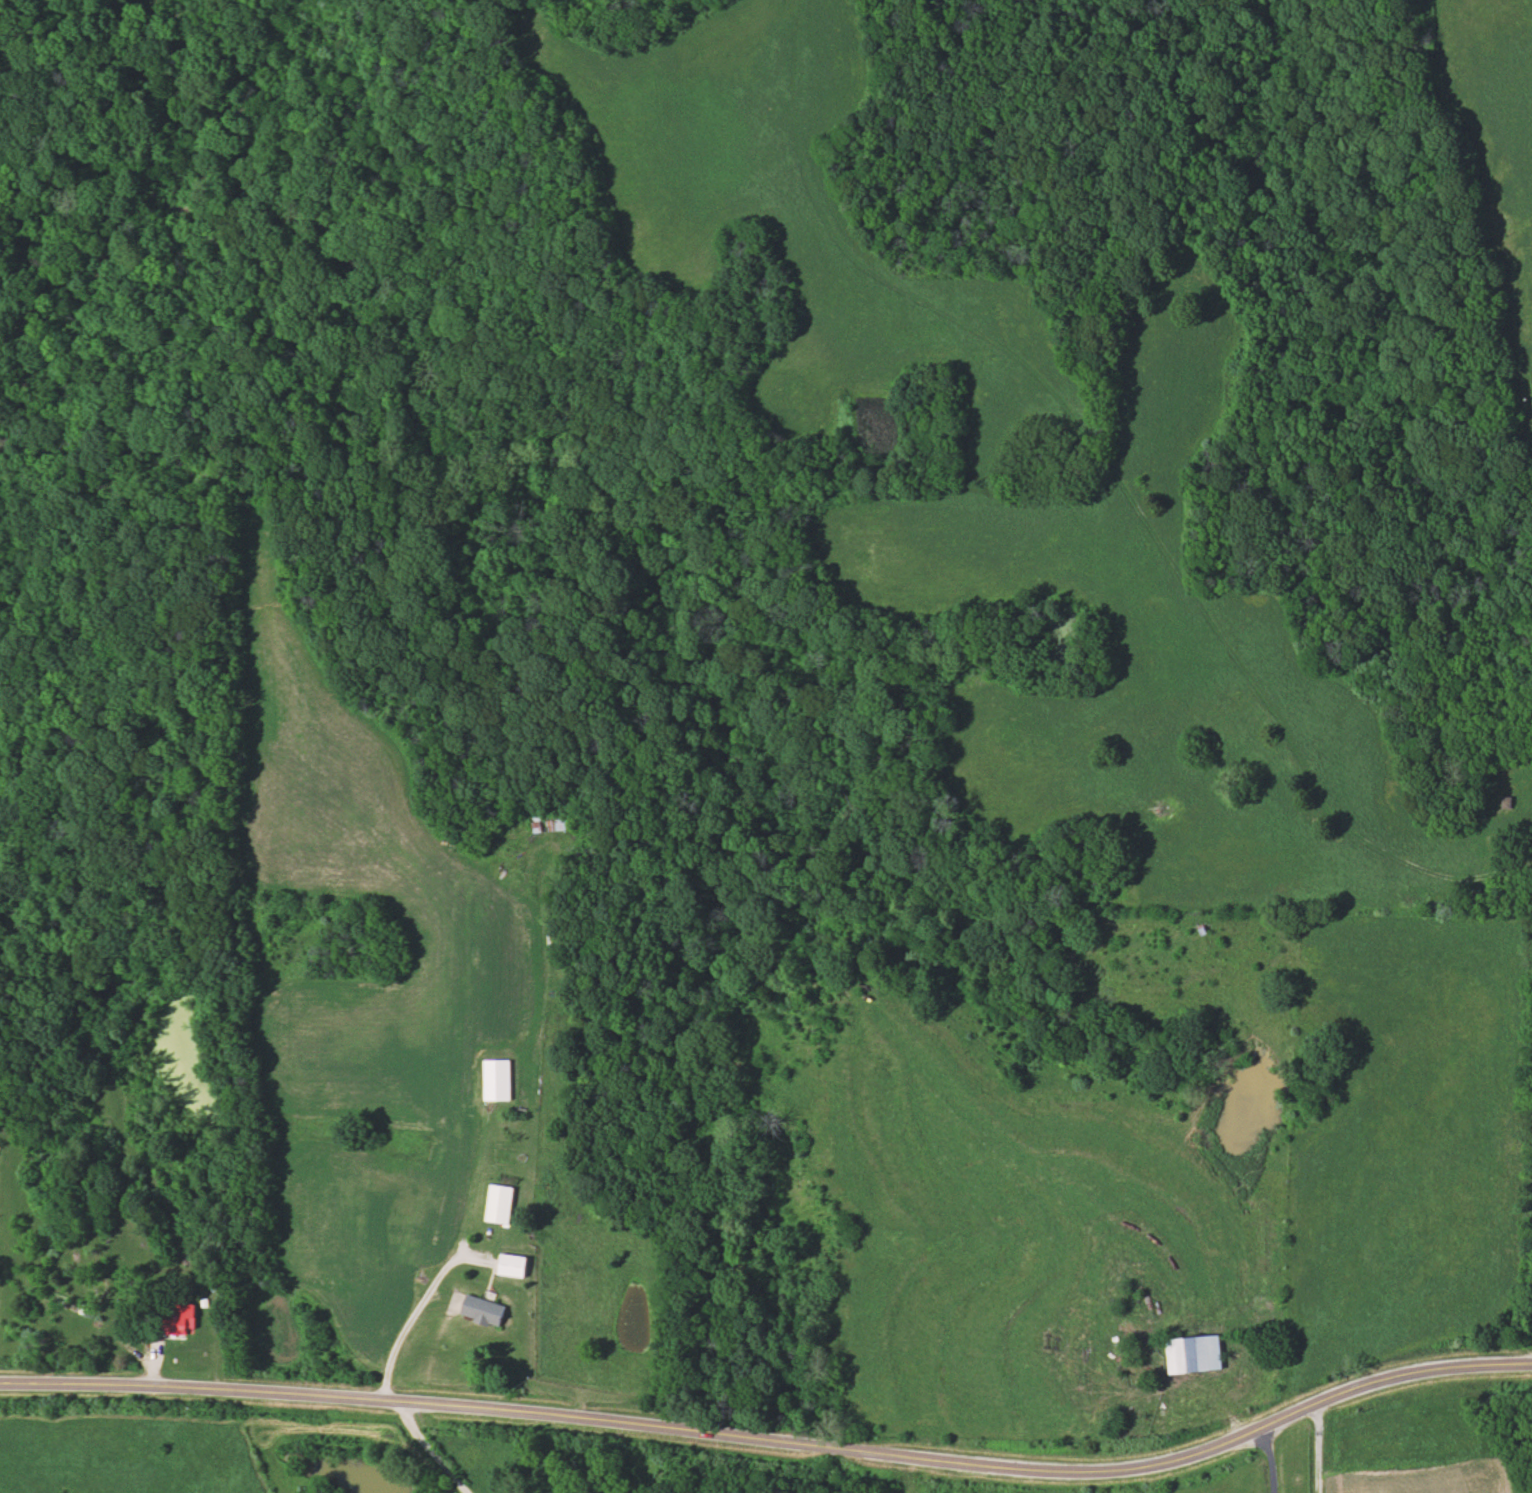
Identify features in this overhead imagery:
road: (1117, 475)
building: (1502, 802)
building: (553, 826)
building: (501, 1205)
building: (514, 1266)
building: (68, 1302)
building: (484, 1311)
building: (183, 1321)
road: (399, 1339)
building: (1190, 1353)
road: (1169, 1392)
road: (774, 1438)
road: (430, 1450)
road: (1270, 1460)

